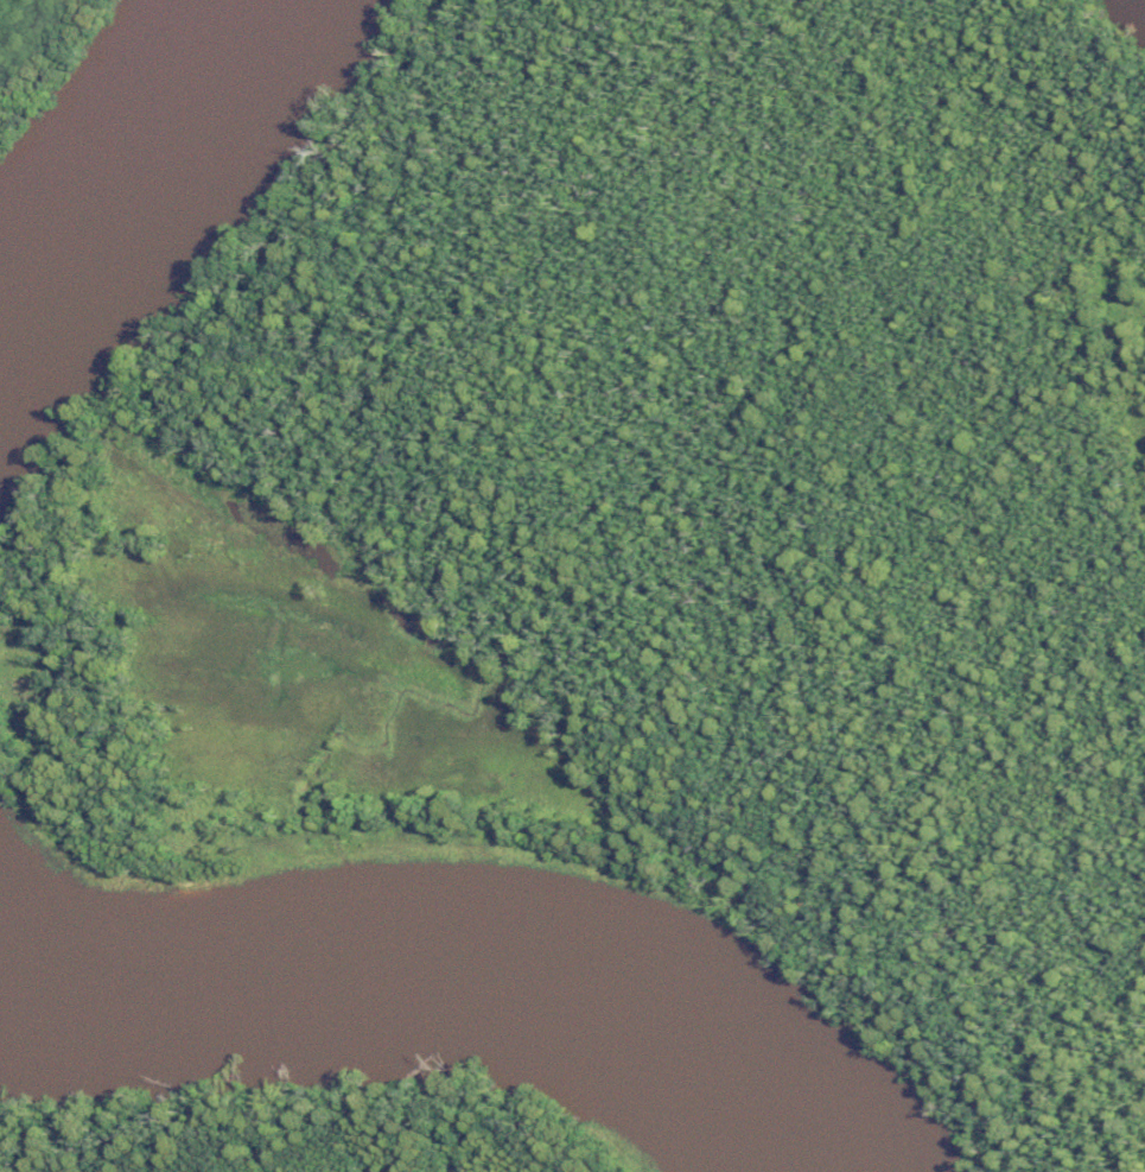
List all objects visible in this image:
river: (138, 184)
river: (443, 1001)

